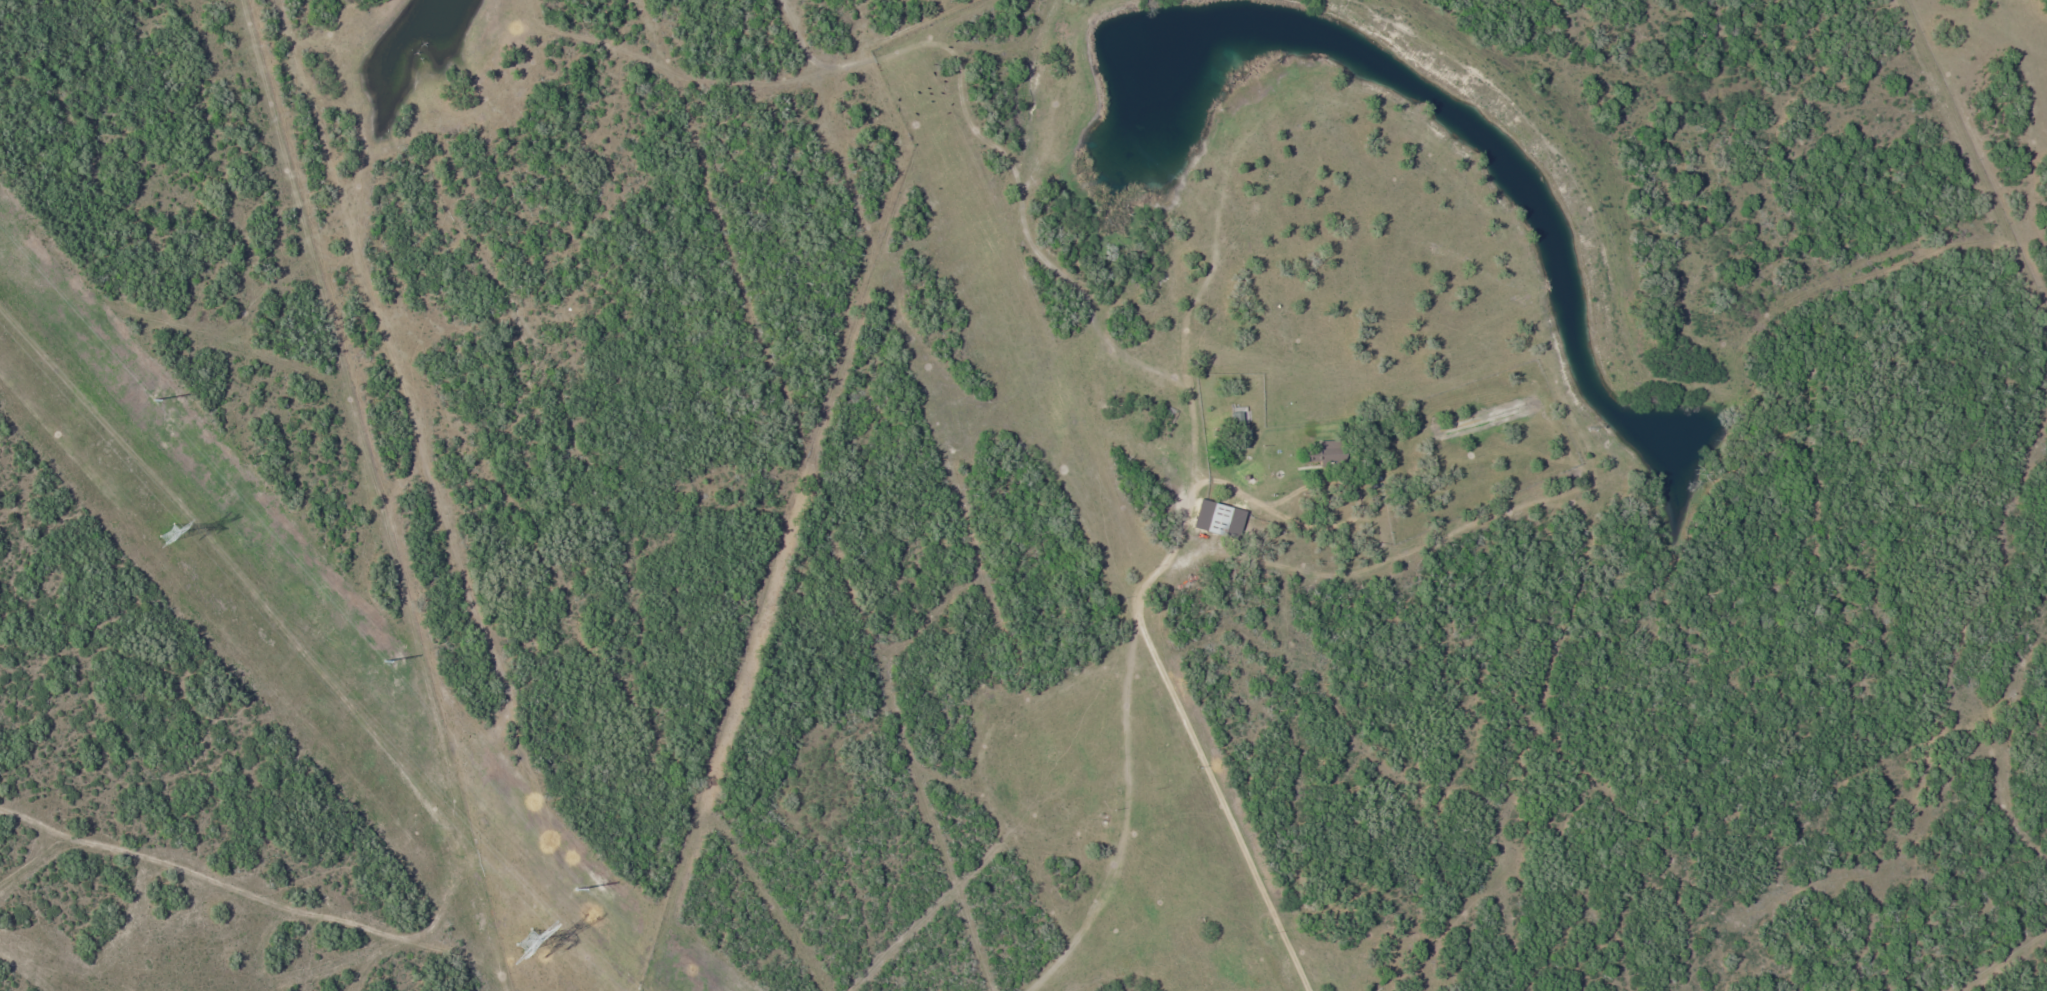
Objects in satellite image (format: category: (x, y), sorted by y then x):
building: (1237, 428)
building: (1324, 453)
building: (1219, 521)
power tower: (169, 531)
power tower: (529, 939)

